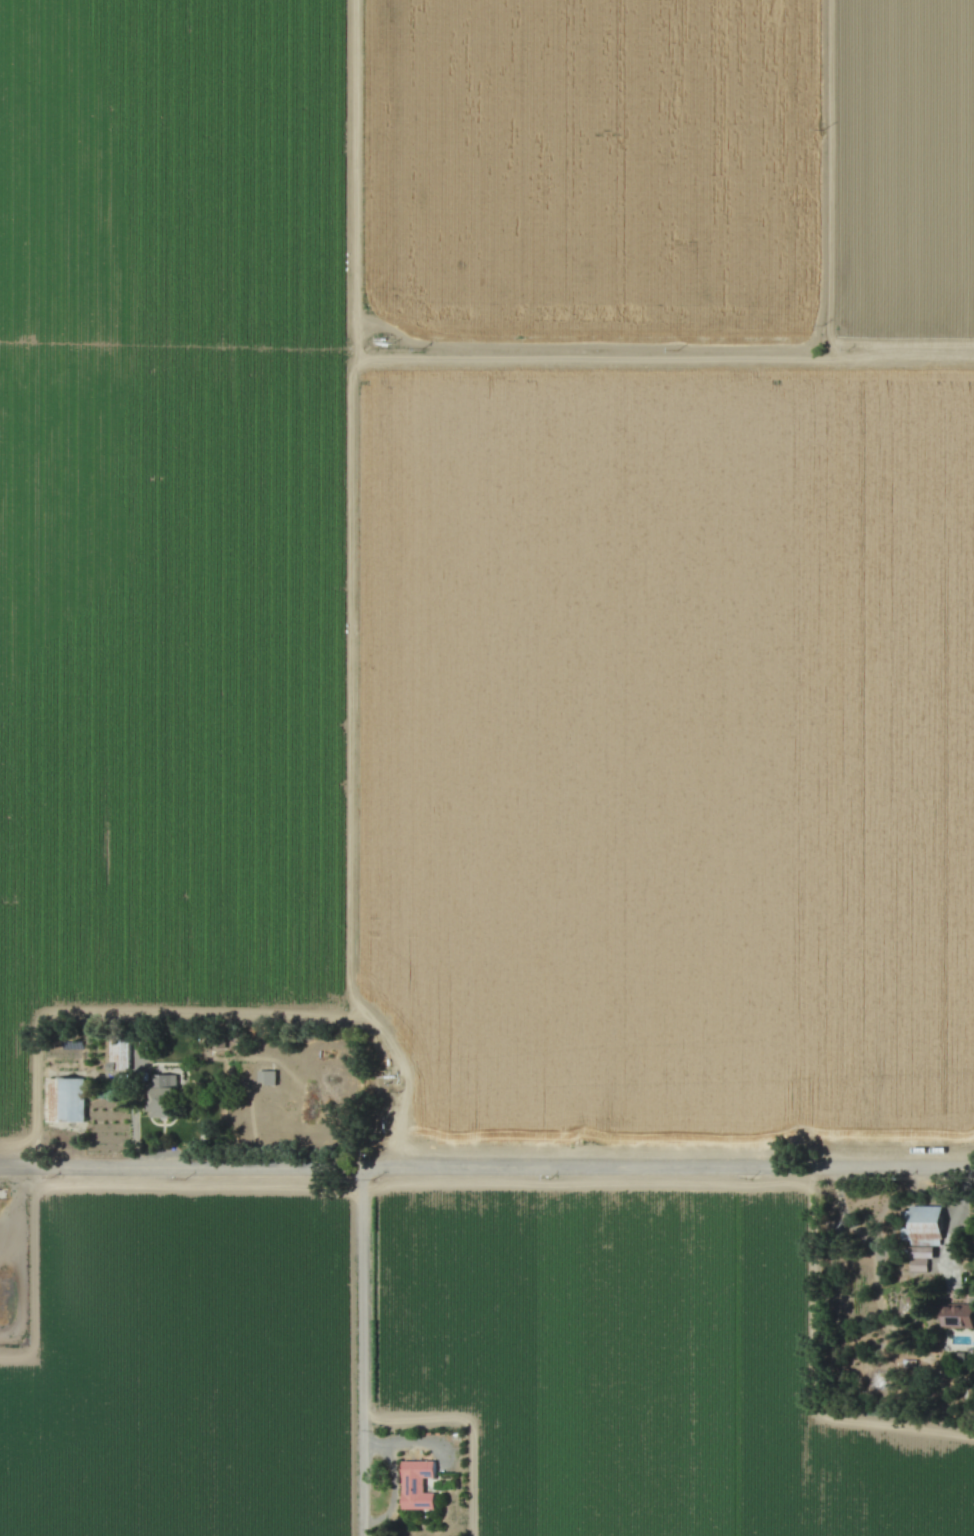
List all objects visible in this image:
road: (353, 598)
road: (121, 1014)
building: (121, 1054)
building: (262, 1077)
building: (165, 1097)
building: (66, 1100)
road: (486, 1174)
road: (959, 1226)
building: (920, 1266)
building: (960, 1316)
road: (361, 1355)
building: (418, 1486)

